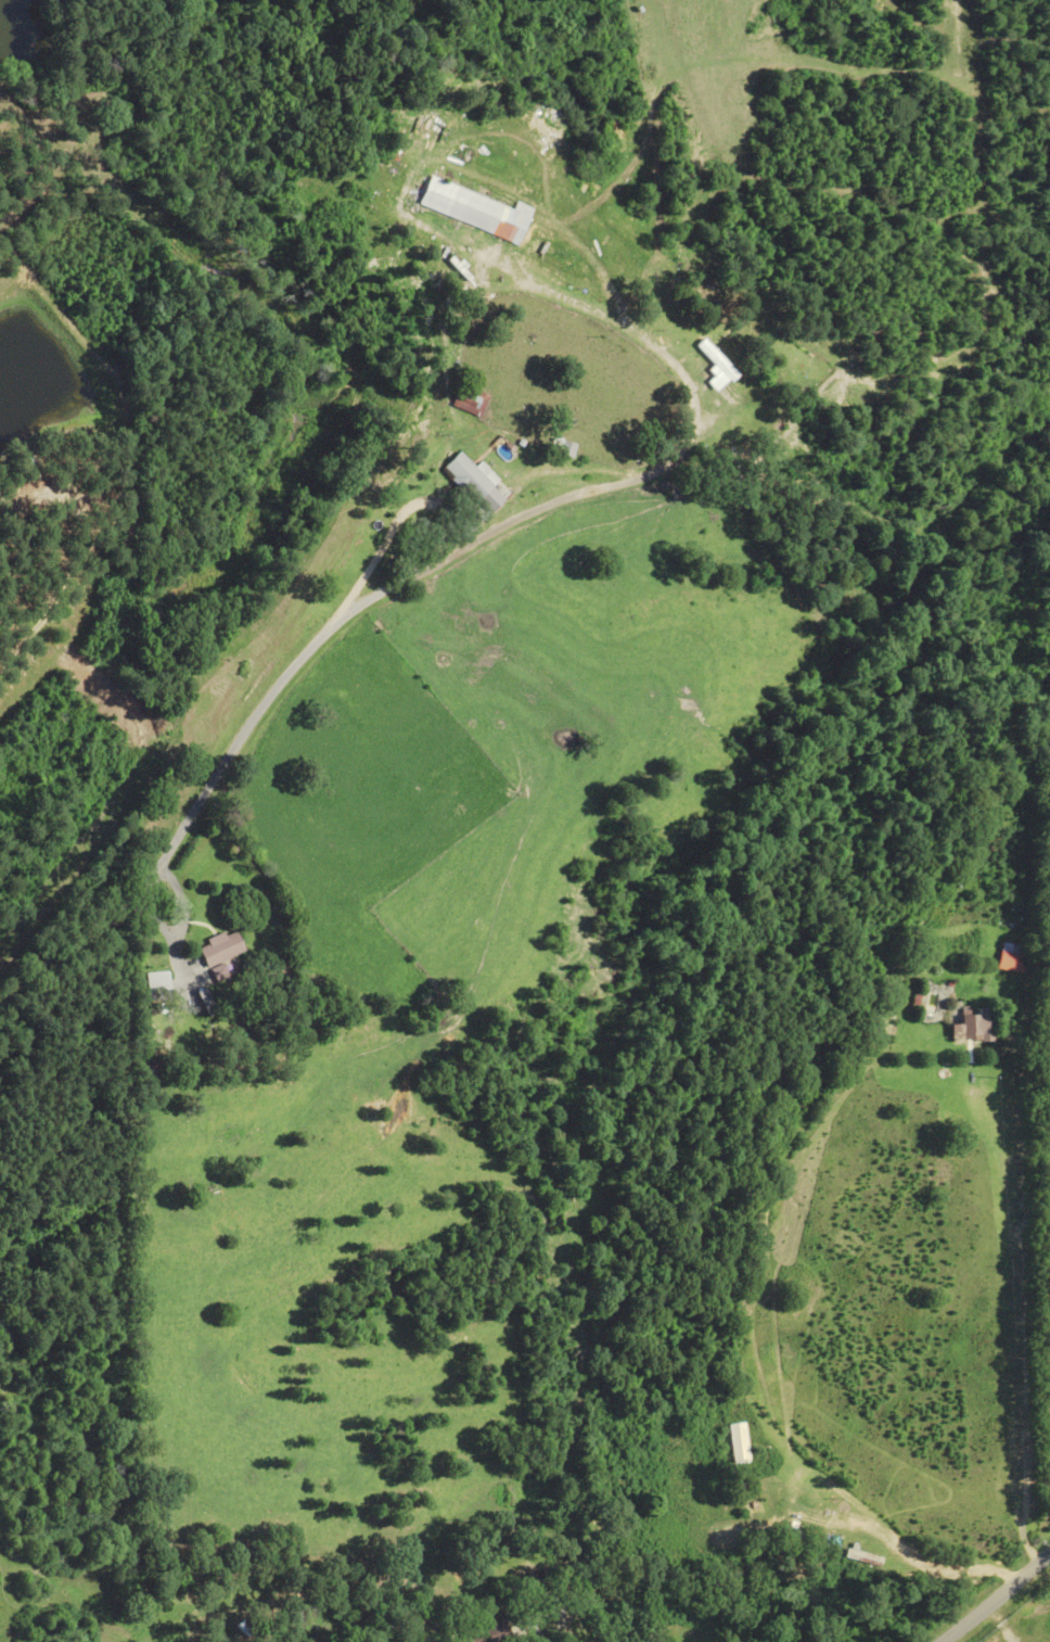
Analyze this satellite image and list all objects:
road: (423, 100)
building: (471, 208)
building: (720, 355)
building: (472, 399)
building: (21, 462)
road: (281, 462)
building: (471, 474)
building: (0, 502)
road: (394, 586)
road: (476, 850)
building: (223, 949)
building: (1013, 958)
building: (156, 984)
building: (207, 1002)
building: (977, 1024)
building: (803, 1536)
road: (999, 1601)
building: (487, 1630)
road: (546, 1632)

